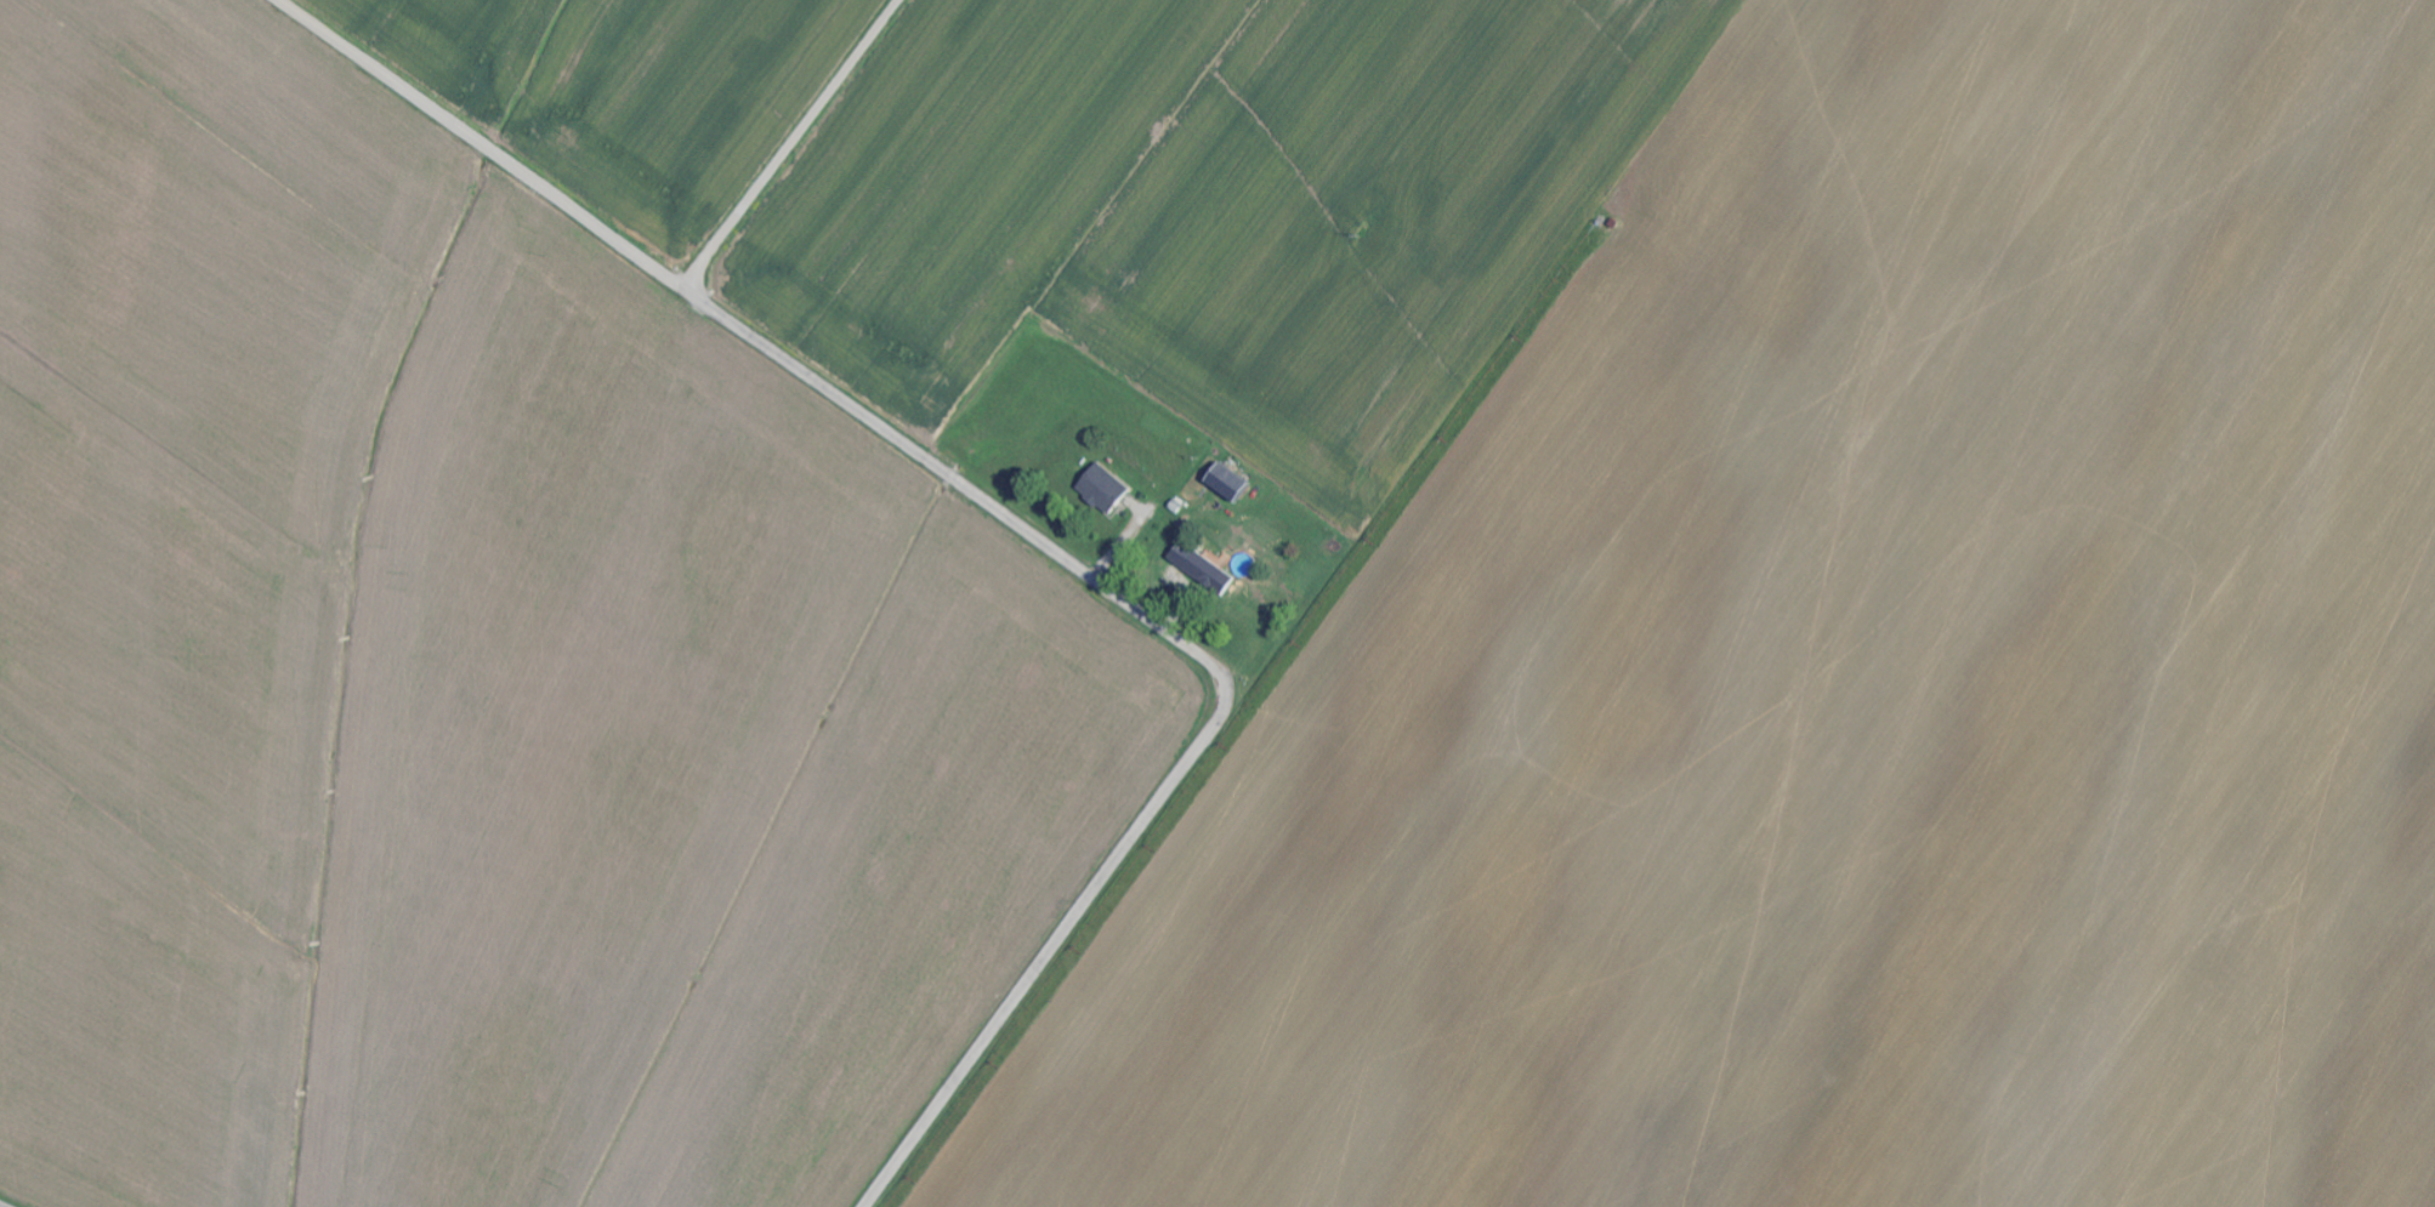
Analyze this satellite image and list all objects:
road: (817, 152)
building: (1230, 483)
building: (1106, 489)
road: (1017, 524)
building: (1211, 575)

